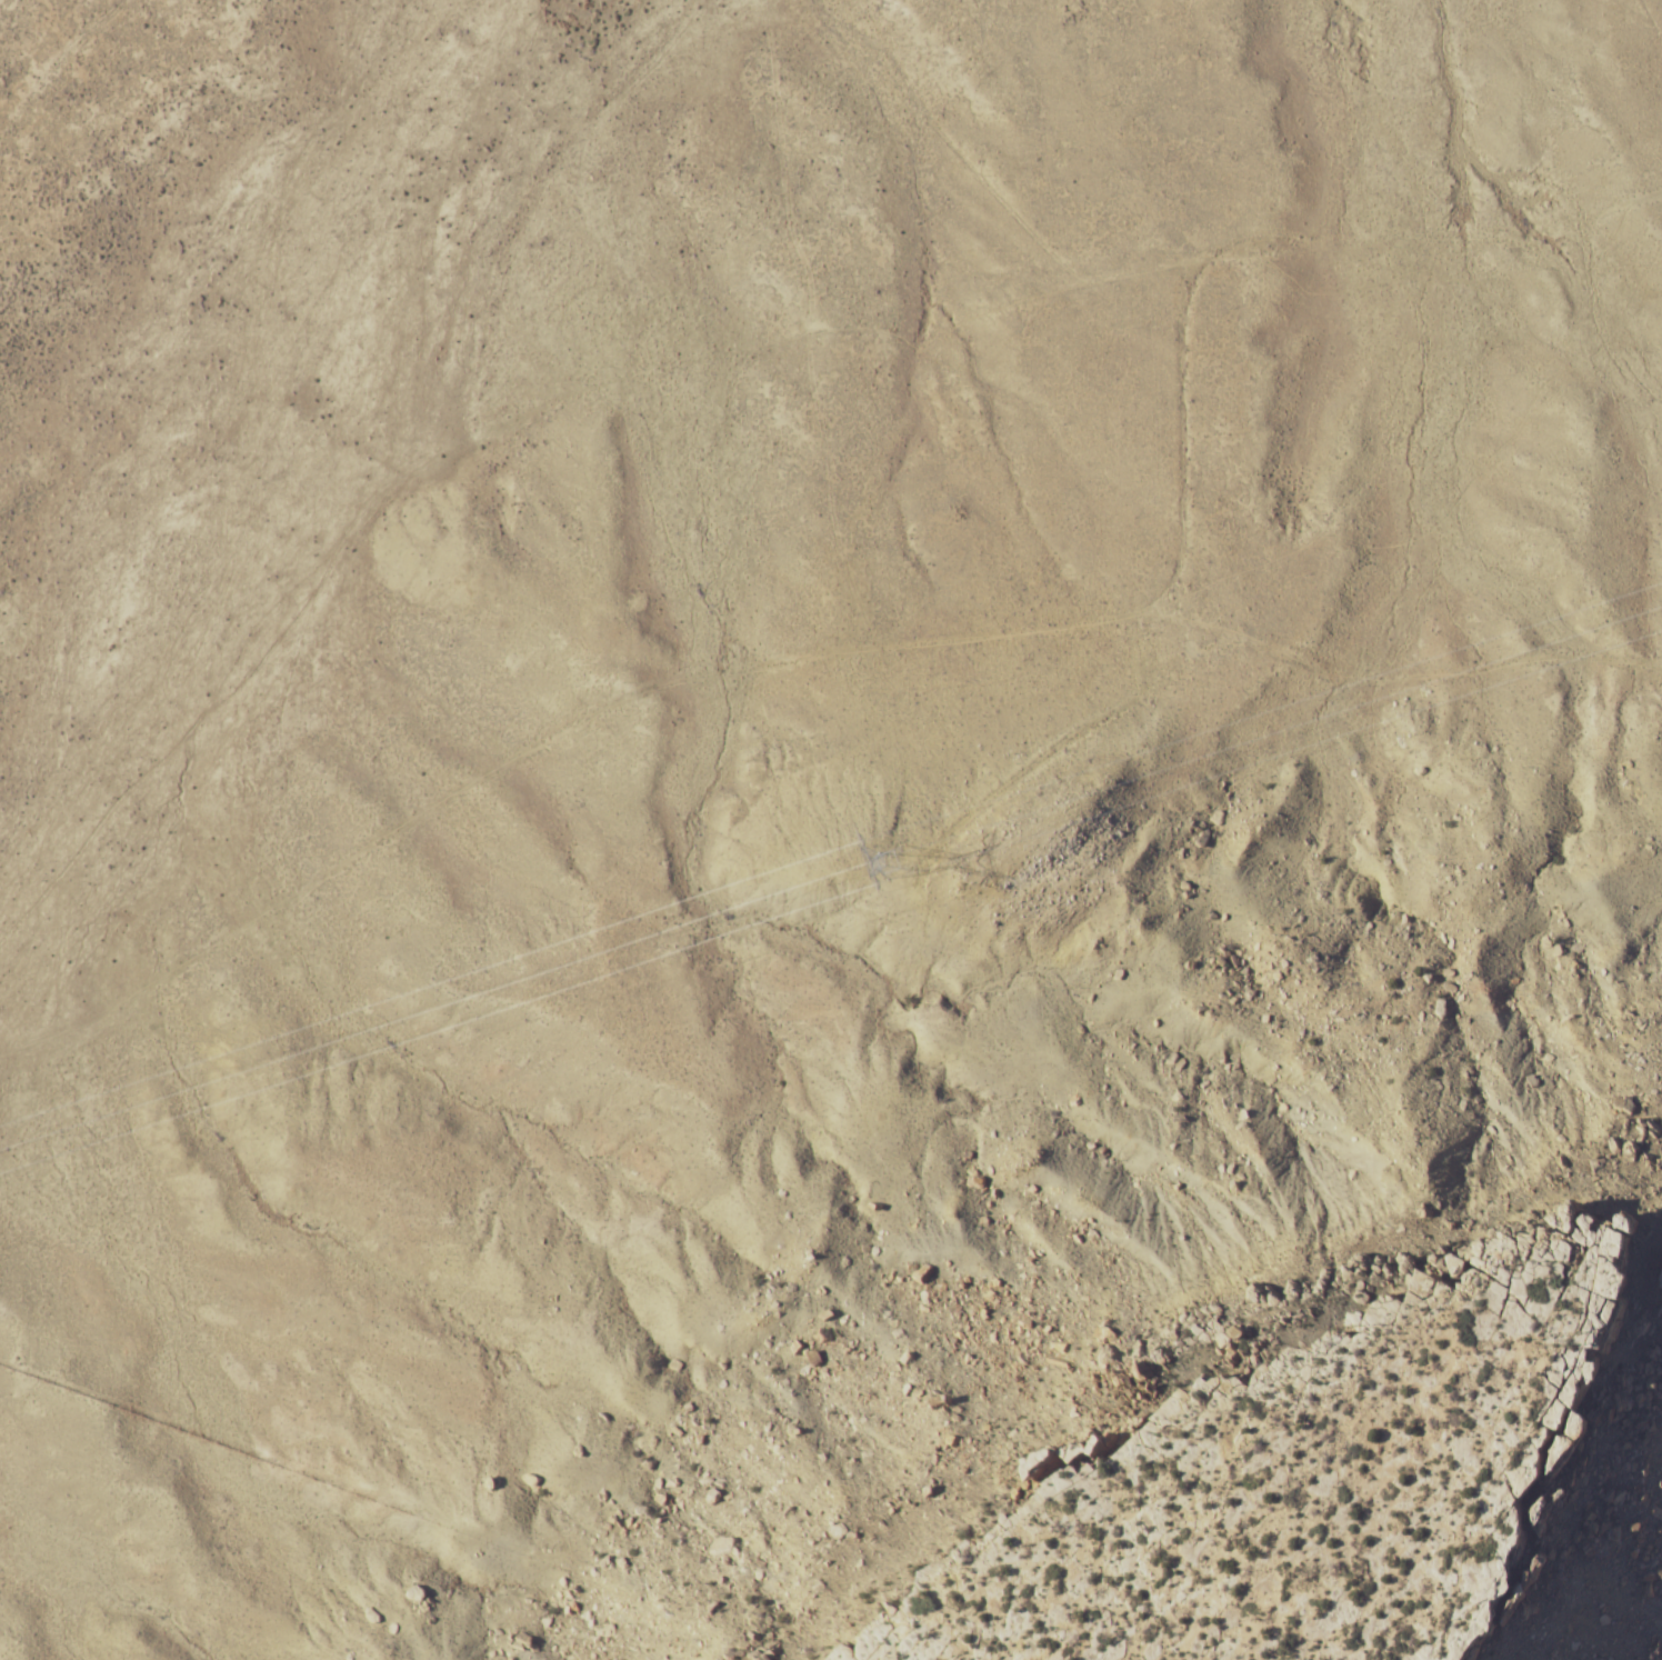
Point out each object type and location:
road: (820, 341)
road: (729, 690)
power tower: (911, 857)

